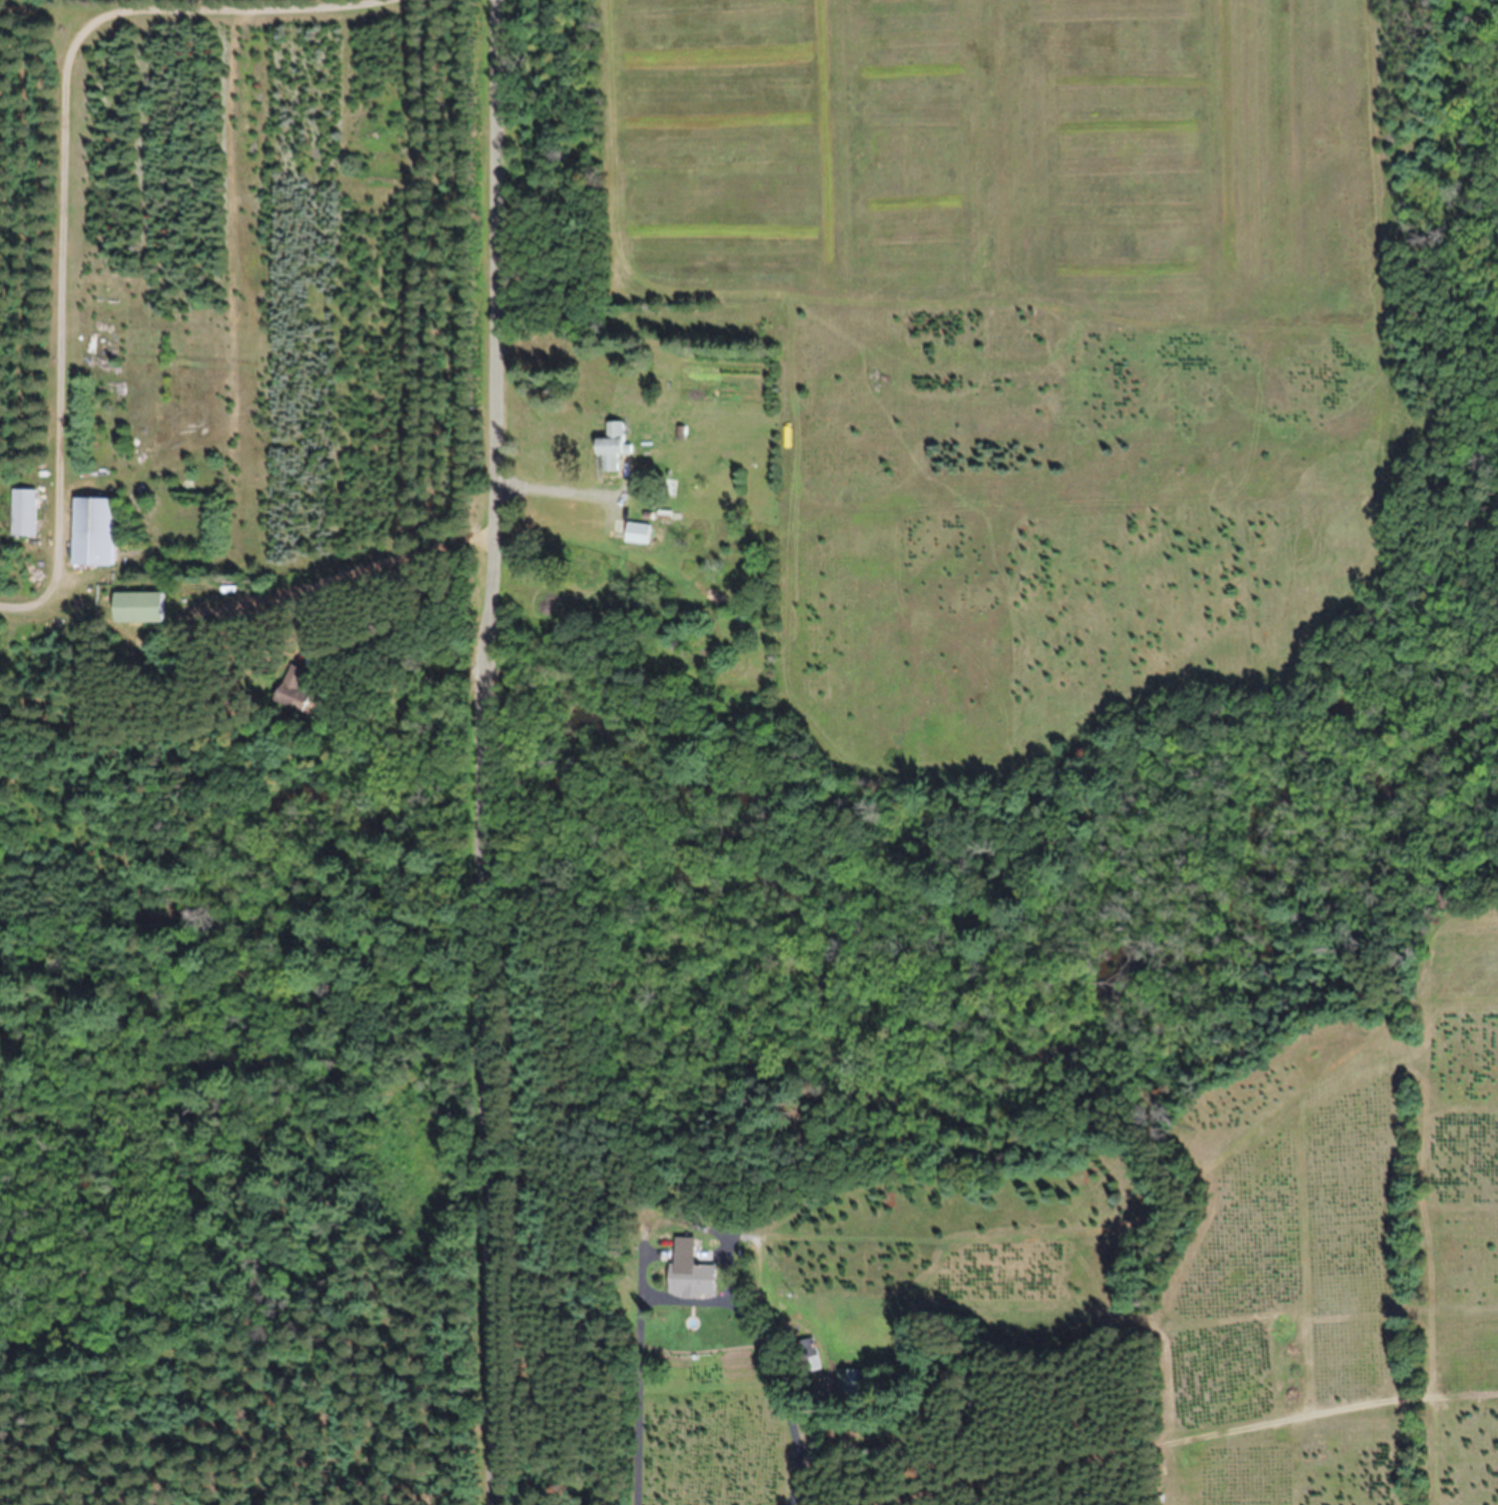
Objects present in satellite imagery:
building: (682, 432)
building: (697, 435)
building: (613, 446)
building: (134, 498)
building: (26, 511)
building: (666, 513)
building: (651, 514)
building: (96, 530)
building: (640, 532)
building: (142, 606)
building: (300, 688)
road: (487, 752)
building: (693, 1273)
building: (809, 1354)
building: (849, 1382)

